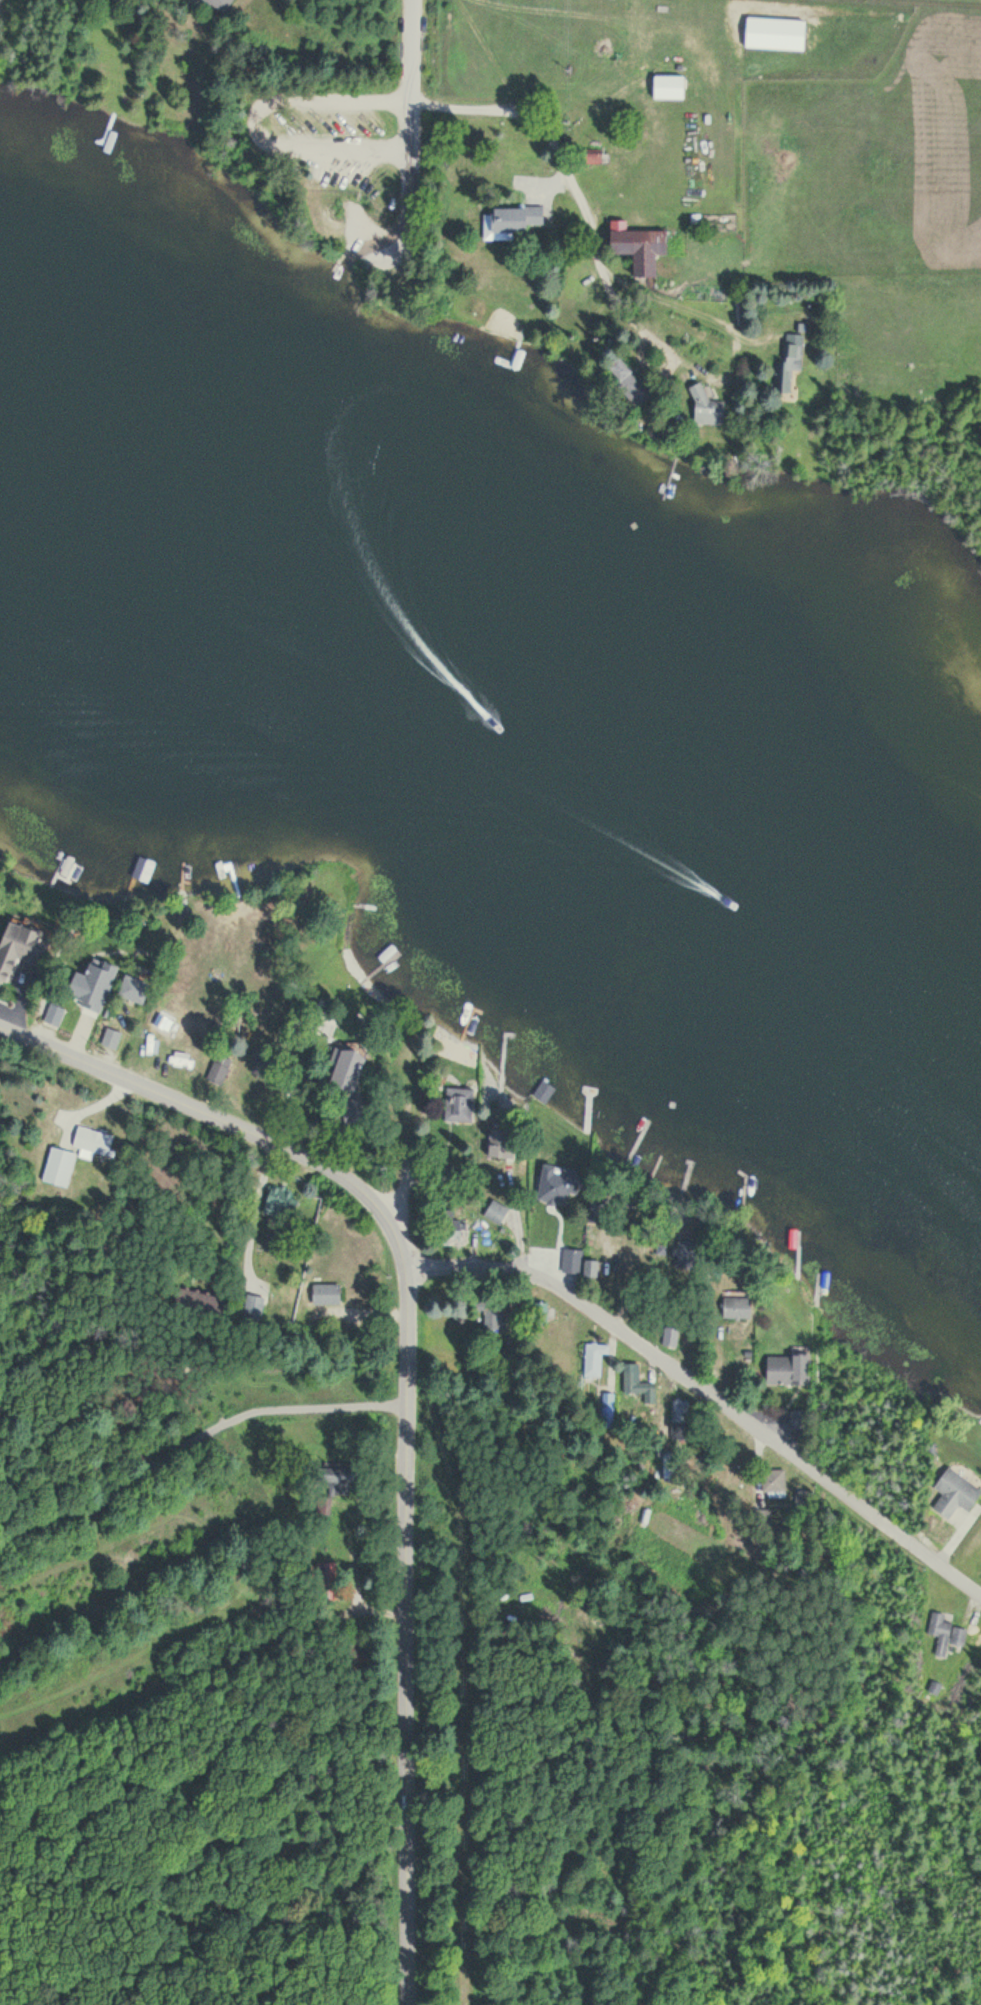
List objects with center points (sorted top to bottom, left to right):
building: (219, 4)
building: (668, 87)
road: (408, 155)
building: (595, 157)
road: (583, 212)
building: (514, 220)
building: (638, 248)
building: (787, 368)
building: (628, 383)
building: (706, 409)
building: (21, 947)
building: (105, 977)
building: (133, 988)
building: (54, 1016)
building: (346, 1068)
building: (219, 1070)
building: (590, 1091)
building: (544, 1092)
building: (459, 1105)
building: (354, 1110)
building: (92, 1141)
building: (501, 1143)
building: (58, 1167)
building: (552, 1199)
building: (279, 1203)
building: (496, 1213)
building: (597, 1213)
building: (449, 1229)
building: (686, 1255)
building: (572, 1262)
building: (591, 1269)
building: (325, 1294)
building: (200, 1307)
building: (253, 1307)
building: (737, 1308)
building: (492, 1314)
building: (670, 1336)
building: (594, 1358)
building: (788, 1370)
building: (636, 1384)
road: (707, 1393)
road: (406, 1394)
building: (607, 1409)
building: (679, 1412)
building: (794, 1420)
building: (336, 1479)
building: (772, 1482)
building: (955, 1494)
building: (322, 1506)
building: (330, 1587)
building: (940, 1632)
building: (958, 1636)
building: (354, 1651)

